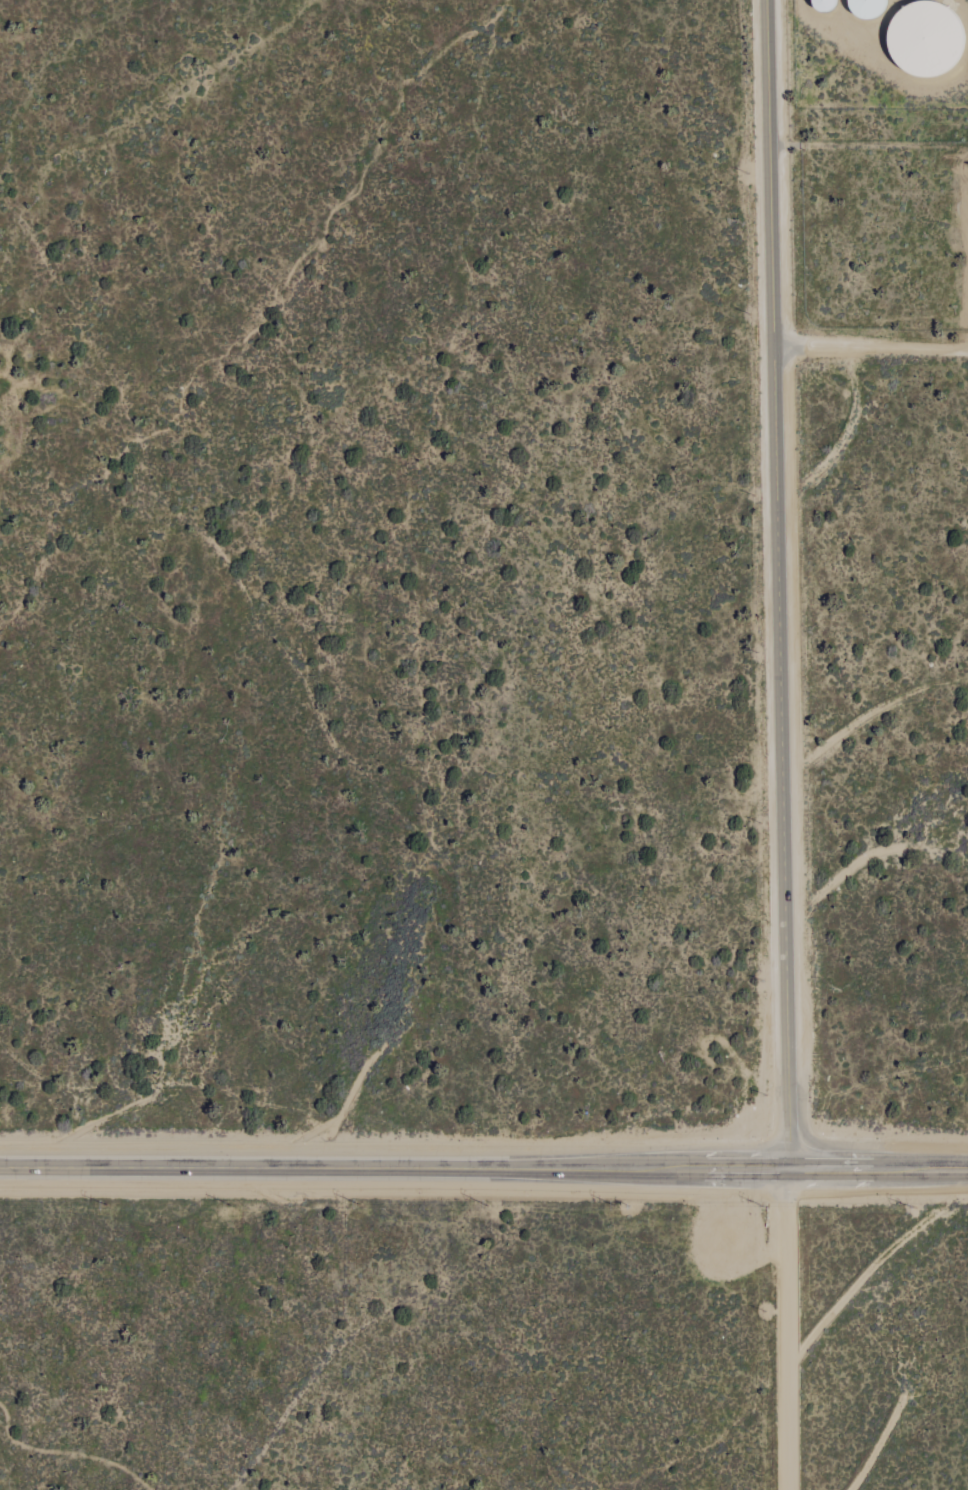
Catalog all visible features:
building: (864, 9)
road: (837, 20)
road: (789, 350)
road: (886, 350)
road: (778, 584)
road: (484, 1168)
road: (790, 1186)
road: (787, 1347)

